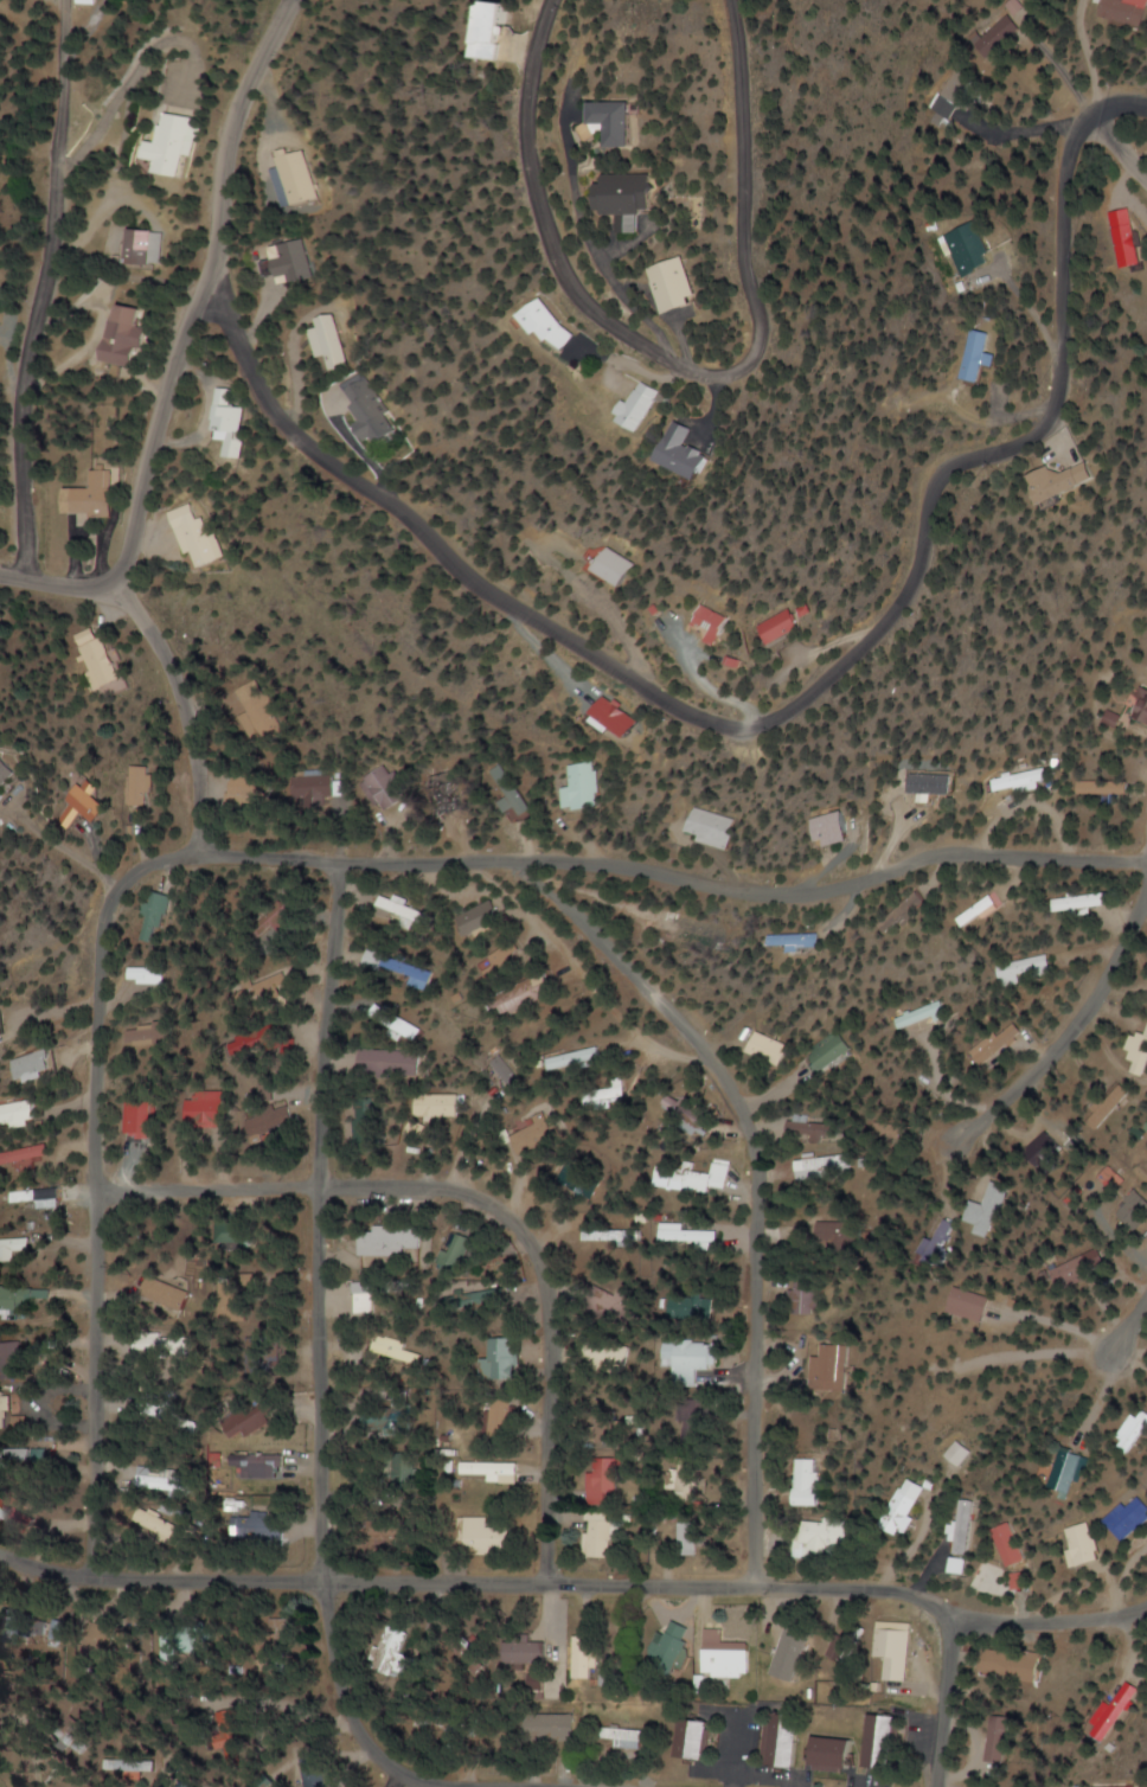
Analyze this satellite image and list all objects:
building: (1128, 12)
building: (1008, 32)
building: (507, 36)
road: (1120, 103)
building: (632, 122)
building: (168, 146)
road: (1121, 146)
building: (293, 177)
building: (635, 198)
building: (1126, 239)
building: (139, 245)
building: (965, 249)
building: (289, 262)
building: (686, 284)
road: (203, 293)
road: (43, 297)
building: (555, 325)
road: (225, 328)
building: (124, 335)
building: (331, 345)
building: (980, 356)
road: (691, 371)
building: (645, 404)
building: (370, 408)
building: (226, 422)
building: (693, 450)
building: (1077, 479)
building: (92, 495)
building: (196, 537)
building: (622, 566)
building: (722, 622)
building: (789, 625)
building: (101, 659)
road: (162, 659)
road: (815, 690)
building: (1142, 707)
building: (617, 718)
building: (11, 775)
building: (1025, 781)
building: (933, 783)
building: (140, 786)
building: (316, 786)
building: (250, 787)
building: (585, 787)
building: (383, 789)
building: (513, 789)
building: (447, 793)
building: (94, 802)
building: (717, 827)
building: (840, 830)
road: (677, 871)
building: (982, 909)
building: (405, 912)
building: (155, 916)
building: (483, 917)
building: (697, 928)
building: (802, 940)
building: (1026, 969)
building: (153, 974)
building: (928, 1017)
building: (6, 1023)
building: (150, 1033)
road: (1064, 1037)
building: (263, 1042)
building: (773, 1050)
building: (835, 1050)
building: (988, 1050)
building: (576, 1059)
building: (391, 1063)
building: (37, 1064)
building: (438, 1107)
building: (679, 1107)
building: (209, 1109)
building: (21, 1114)
building: (141, 1119)
building: (274, 1120)
building: (816, 1129)
building: (540, 1135)
building: (27, 1155)
building: (824, 1167)
building: (699, 1178)
road: (758, 1181)
road: (98, 1185)
building: (46, 1196)
road: (491, 1209)
building: (1136, 1211)
building: (238, 1234)
building: (611, 1236)
building: (840, 1236)
building: (688, 1240)
building: (395, 1242)
building: (15, 1249)
building: (931, 1251)
building: (460, 1257)
building: (1081, 1269)
building: (802, 1295)
building: (25, 1298)
building: (615, 1302)
building: (975, 1304)
building: (692, 1308)
road: (1127, 1324)
building: (159, 1345)
building: (393, 1351)
building: (259, 1353)
building: (690, 1357)
building: (504, 1358)
building: (14, 1362)
building: (827, 1368)
road: (315, 1382)
building: (4, 1403)
building: (390, 1415)
building: (700, 1420)
building: (9, 1455)
building: (271, 1463)
building: (492, 1471)
building: (1072, 1472)
building: (405, 1473)
building: (690, 1480)
building: (162, 1482)
building: (809, 1482)
building: (899, 1509)
building: (9, 1512)
building: (1133, 1519)
building: (963, 1526)
building: (271, 1529)
building: (600, 1535)
building: (685, 1536)
building: (822, 1536)
building: (392, 1537)
building: (483, 1537)
building: (1014, 1545)
building: (1085, 1545)
building: (1024, 1581)
road: (576, 1583)
building: (20, 1626)
building: (179, 1639)
building: (844, 1644)
building: (673, 1645)
building: (527, 1652)
building: (892, 1653)
building: (395, 1655)
building: (724, 1657)
building: (585, 1658)
building: (1013, 1666)
building: (609, 1678)
road: (943, 1703)
building: (1119, 1710)
building: (558, 1728)
building: (633, 1737)
building: (995, 1738)
building: (697, 1740)
building: (784, 1741)
building: (882, 1742)
building: (832, 1755)
building: (315, 1772)
building: (186, 1785)

